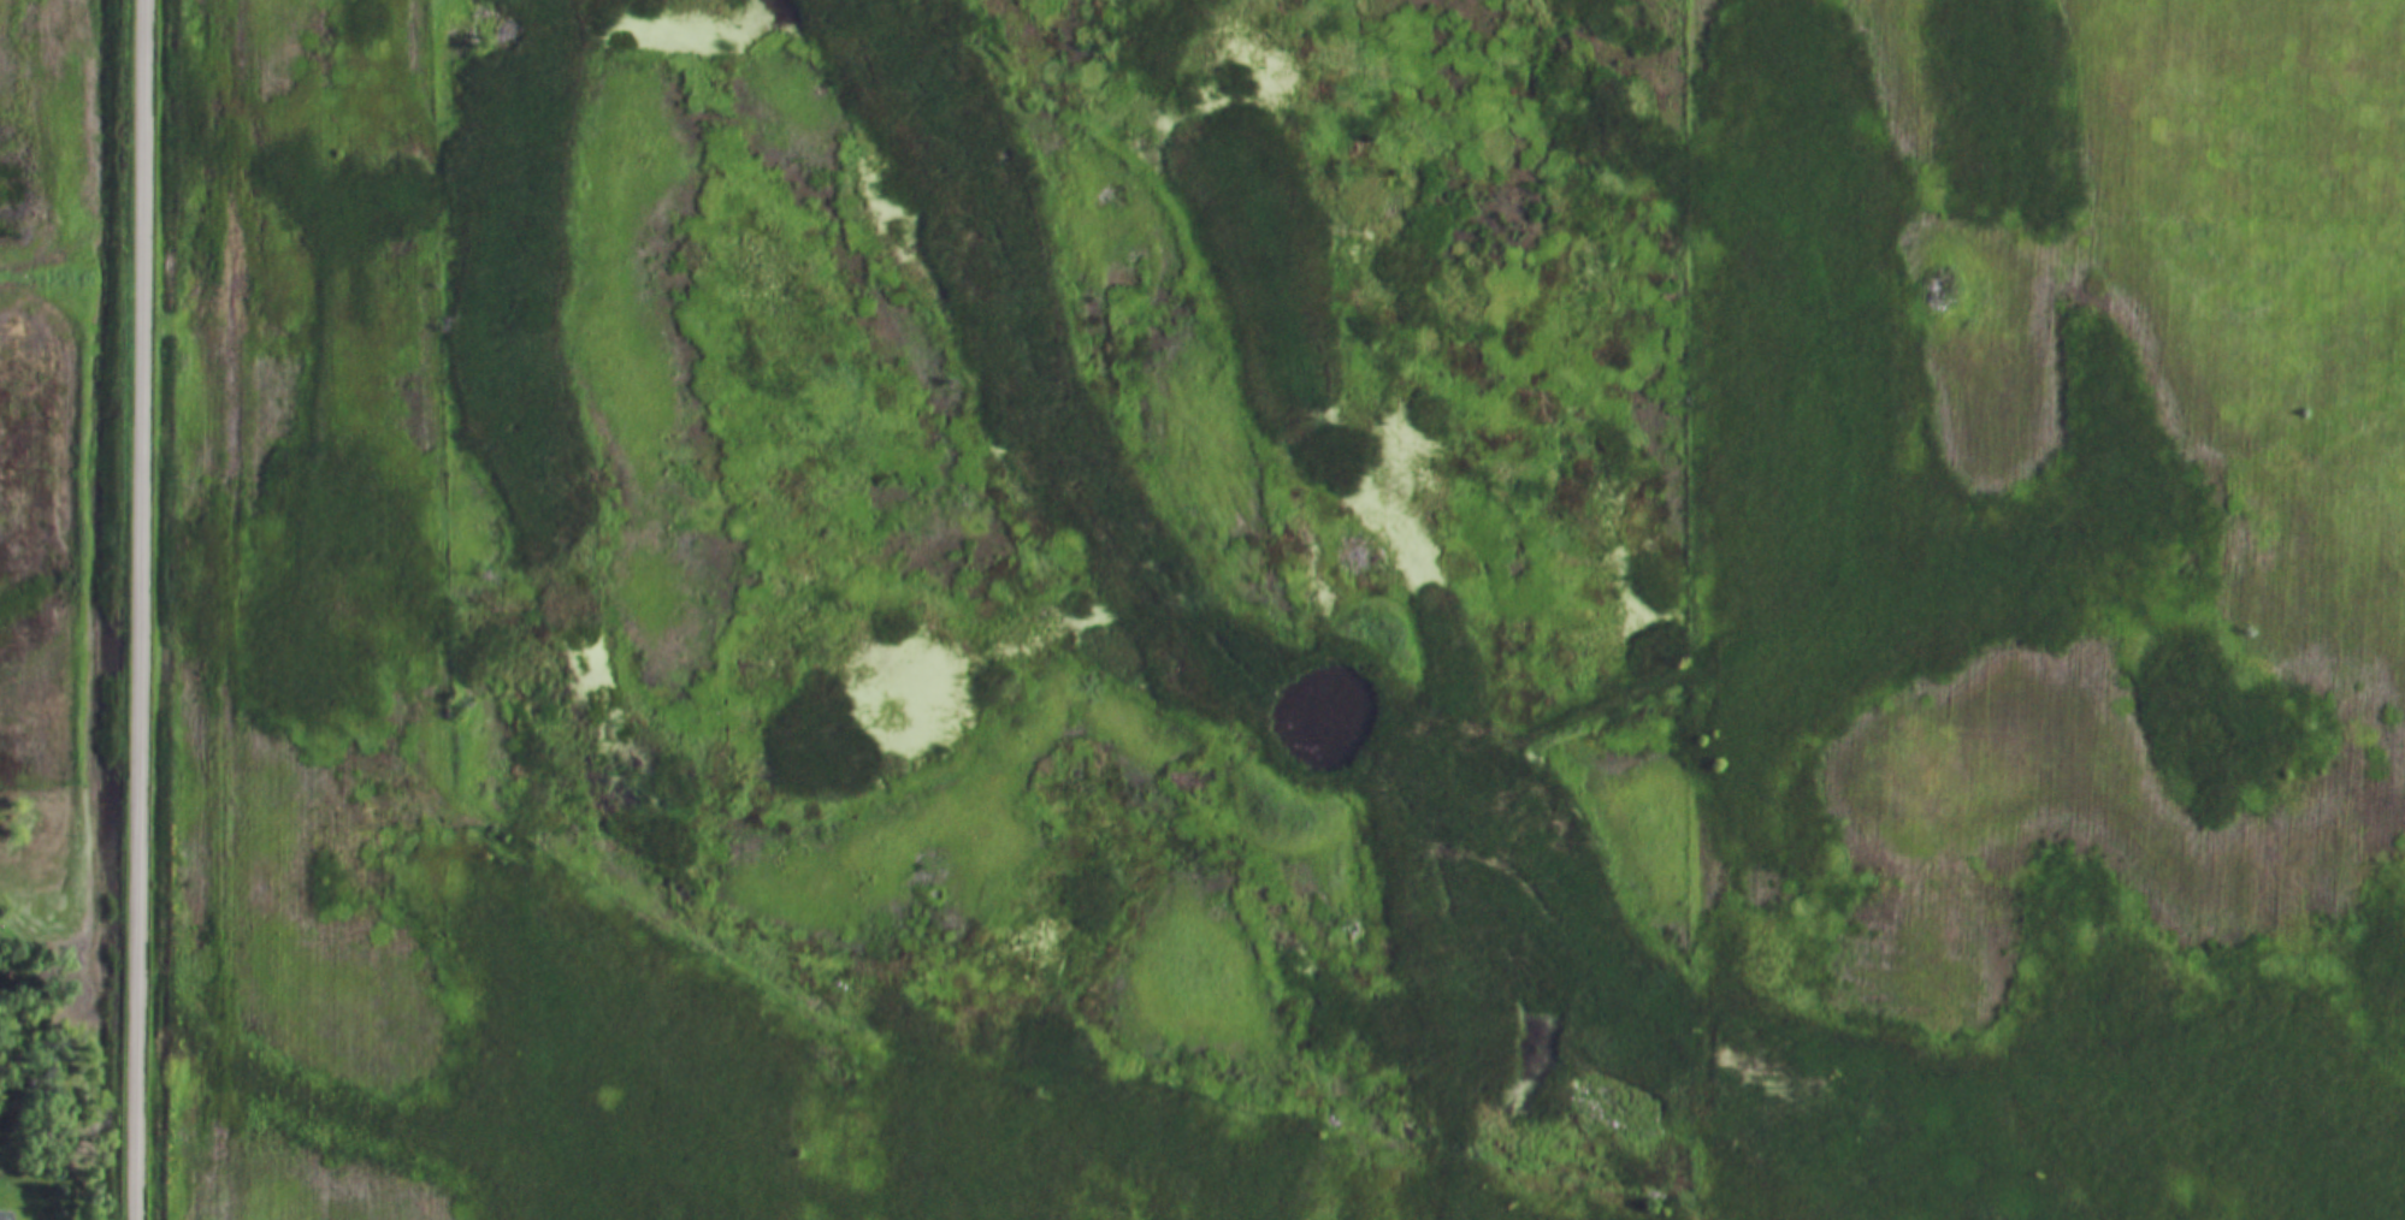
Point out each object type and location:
road: (146, 609)
building: (5, 1215)

